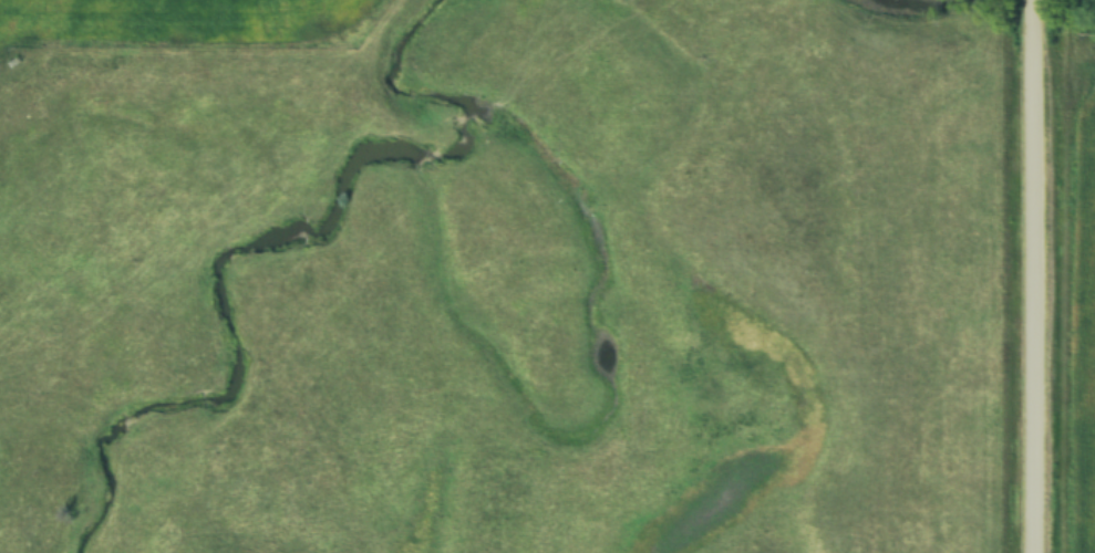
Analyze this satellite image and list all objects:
road: (1034, 276)

